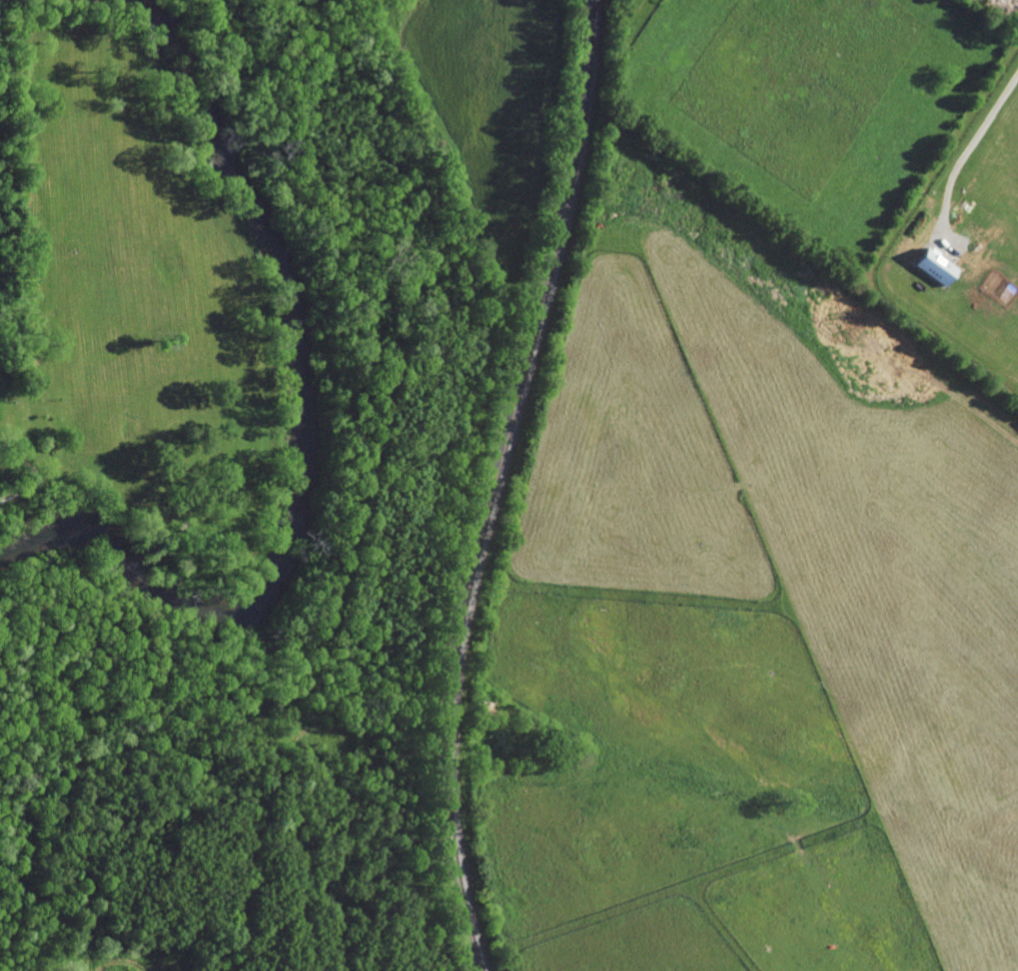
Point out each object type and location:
railway: (495, 484)

